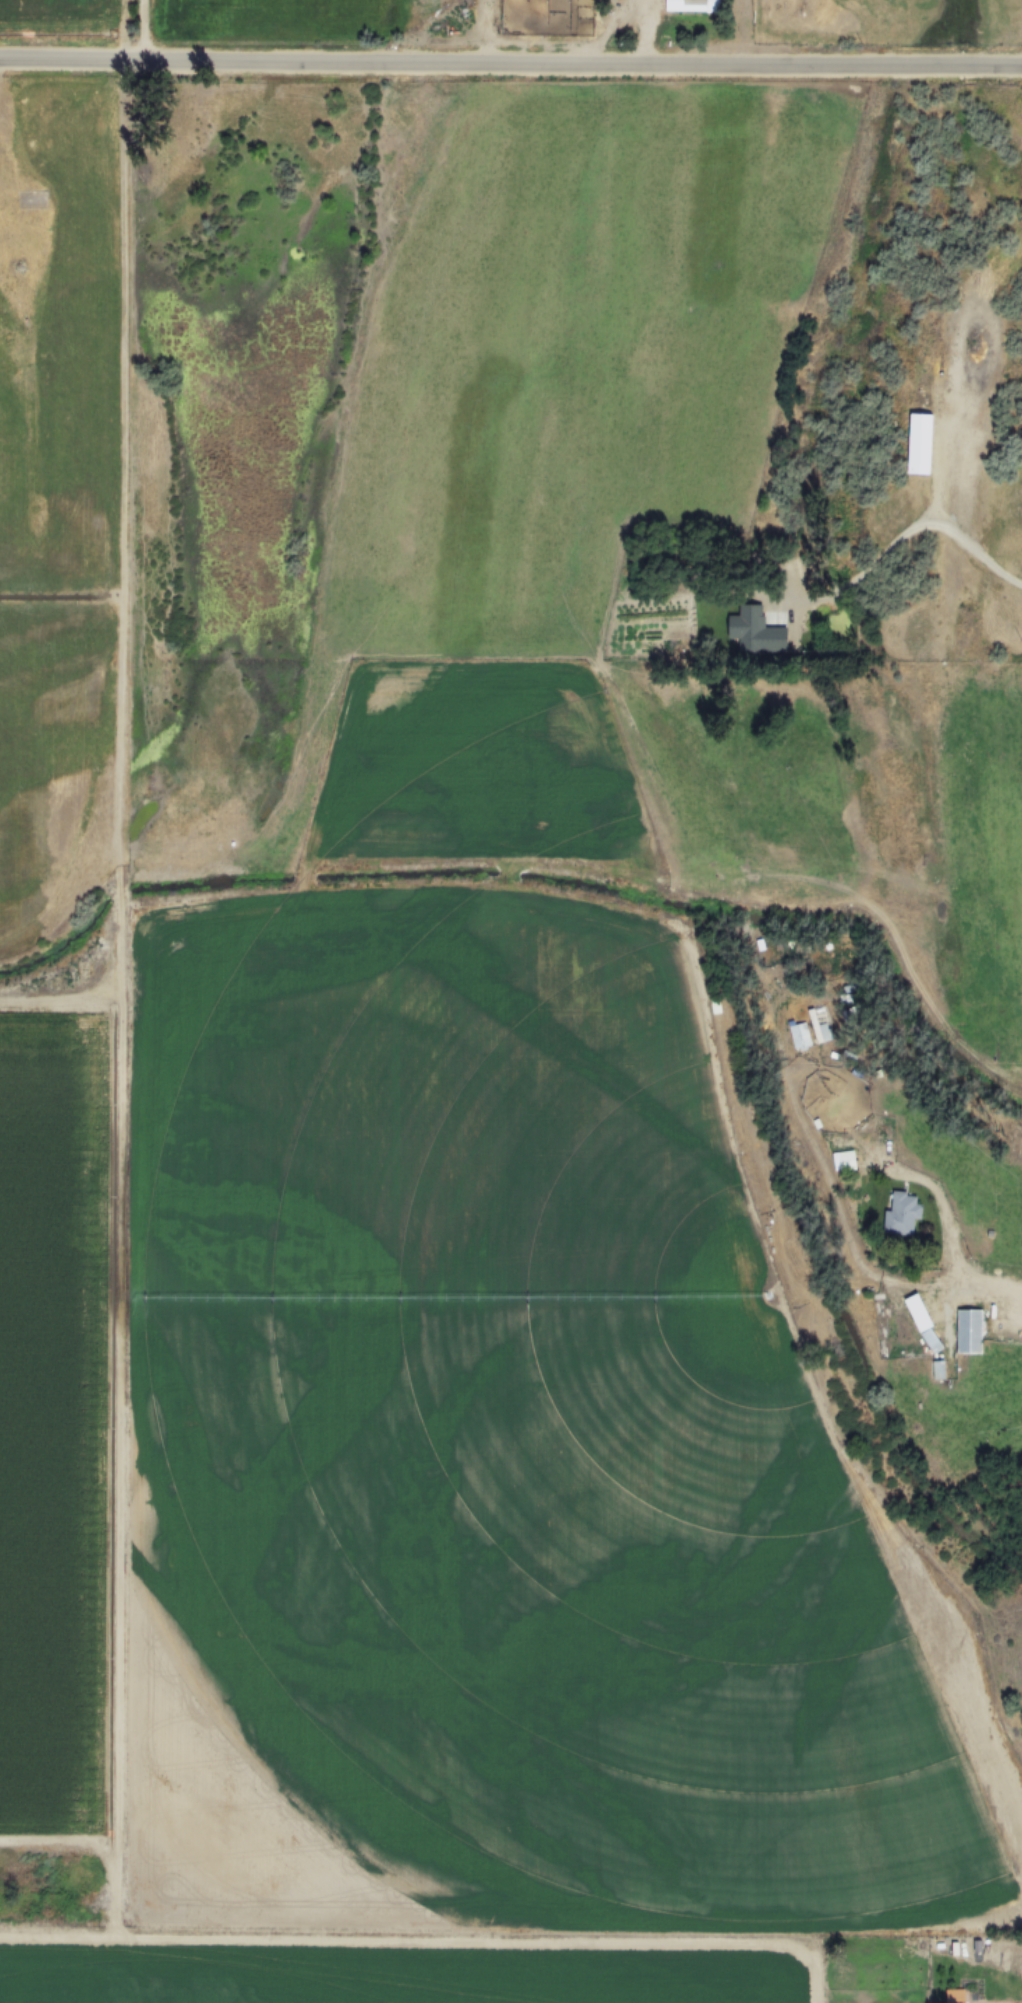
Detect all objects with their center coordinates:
building: (692, 5)
building: (523, 14)
road: (146, 31)
road: (643, 33)
road: (510, 65)
road: (1, 73)
road: (10, 151)
building: (919, 444)
road: (926, 523)
building: (756, 630)
building: (271, 835)
building: (819, 1024)
building: (800, 1035)
building: (847, 1160)
building: (902, 1212)
road: (948, 1233)
building: (969, 1347)
building: (938, 1369)
building: (441, 1706)
building: (955, 2001)

